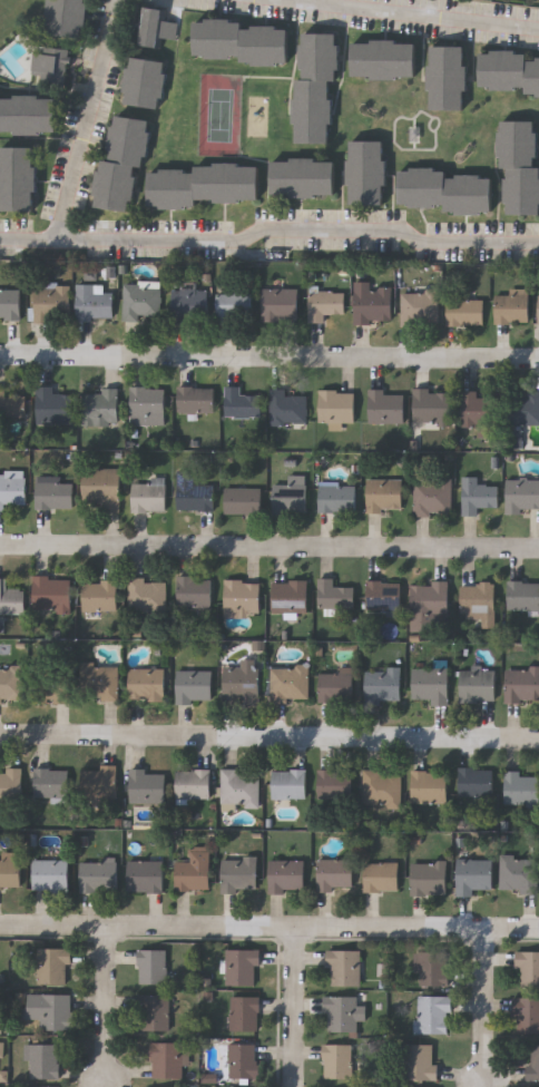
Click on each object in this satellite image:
road: (414, 14)
building: (68, 17)
building: (157, 27)
building: (243, 41)
building: (385, 58)
building: (51, 65)
building: (509, 69)
building: (448, 77)
building: (146, 82)
building: (316, 85)
building: (29, 112)
road: (84, 120)
building: (124, 163)
building: (520, 165)
building: (367, 172)
building: (304, 177)
building: (19, 178)
building: (204, 185)
building: (445, 189)
road: (269, 242)
building: (96, 301)
building: (143, 302)
building: (10, 303)
building: (53, 303)
building: (373, 303)
building: (281, 304)
building: (327, 304)
building: (192, 305)
building: (235, 306)
building: (421, 306)
building: (513, 306)
building: (465, 311)
road: (269, 358)
building: (197, 399)
building: (243, 403)
building: (11, 404)
building: (100, 405)
building: (148, 405)
building: (53, 407)
building: (290, 407)
building: (337, 407)
building: (433, 407)
building: (388, 408)
building: (522, 410)
building: (481, 412)
building: (102, 487)
building: (13, 491)
building: (194, 492)
building: (521, 493)
building: (55, 494)
building: (150, 496)
building: (385, 496)
building: (478, 496)
building: (340, 497)
building: (433, 497)
building: (291, 498)
building: (244, 500)
road: (269, 548)
building: (196, 591)
building: (52, 594)
building: (100, 595)
building: (148, 595)
building: (335, 595)
building: (384, 595)
building: (523, 595)
building: (244, 596)
building: (291, 596)
building: (11, 599)
building: (479, 600)
building: (429, 604)
building: (100, 682)
building: (384, 682)
building: (243, 683)
building: (291, 683)
building: (147, 684)
building: (522, 684)
building: (12, 685)
building: (52, 685)
building: (195, 685)
building: (432, 685)
building: (479, 685)
building: (337, 686)
road: (269, 736)
building: (99, 782)
building: (477, 782)
building: (290, 783)
building: (336, 783)
building: (52, 784)
building: (194, 784)
building: (11, 785)
building: (148, 785)
building: (430, 786)
building: (241, 787)
building: (383, 787)
building: (521, 787)
building: (10, 870)
building: (194, 870)
building: (520, 873)
building: (51, 874)
building: (241, 874)
building: (336, 874)
building: (99, 875)
building: (146, 875)
building: (287, 875)
building: (474, 875)
building: (382, 877)
building: (430, 878)
road: (269, 929)
building: (55, 964)
building: (154, 967)
building: (244, 967)
building: (344, 968)
building: (528, 968)
building: (433, 969)
road: (101, 1007)
road: (483, 1007)
road: (292, 1008)
building: (49, 1009)
building: (154, 1012)
building: (245, 1012)
building: (344, 1012)
building: (434, 1015)
building: (526, 1015)
building: (1, 1048)
building: (167, 1059)
building: (244, 1059)
building: (42, 1060)
building: (339, 1060)
building: (421, 1061)
building: (533, 1062)
building: (42, 1086)

